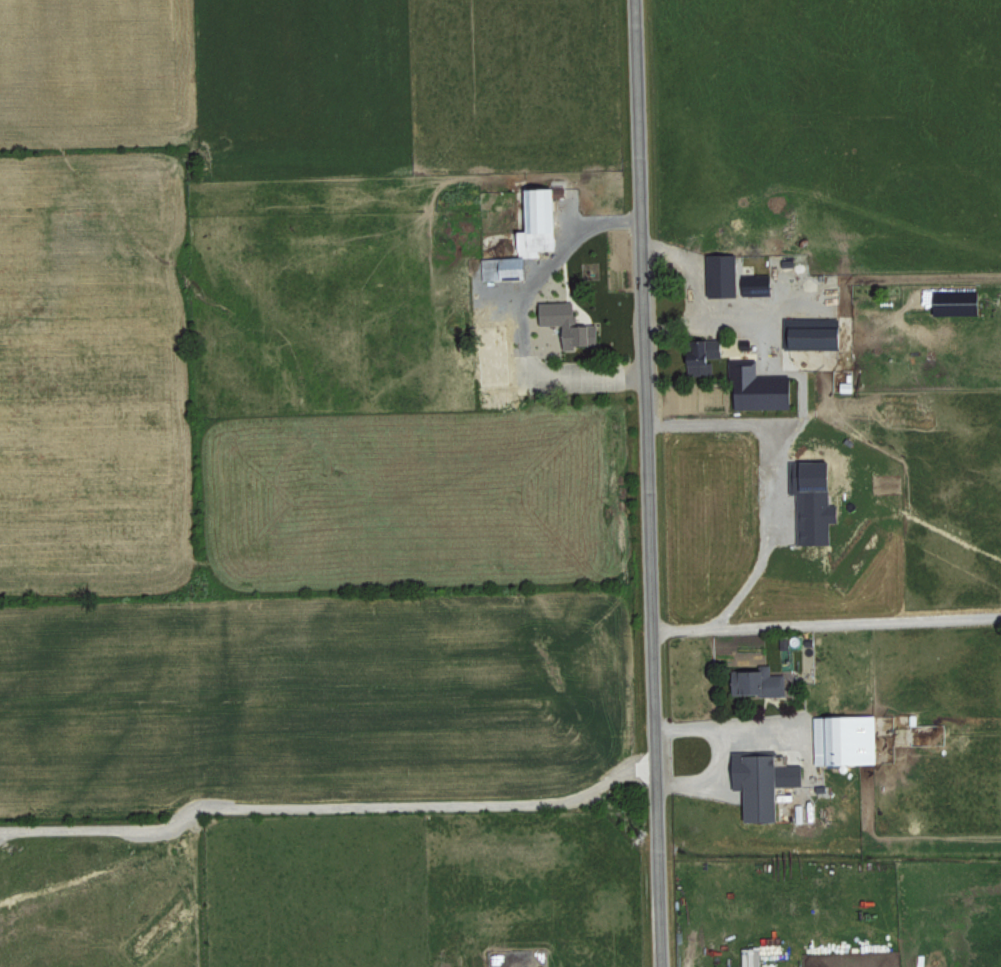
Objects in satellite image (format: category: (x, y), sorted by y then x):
building: (531, 235)
building: (726, 273)
building: (952, 300)
road: (520, 315)
building: (571, 322)
building: (815, 334)
building: (709, 354)
building: (762, 386)
road: (803, 406)
road: (655, 483)
building: (811, 500)
road: (830, 621)
building: (808, 640)
building: (783, 642)
building: (758, 681)
building: (848, 739)
building: (767, 782)
building: (752, 957)

